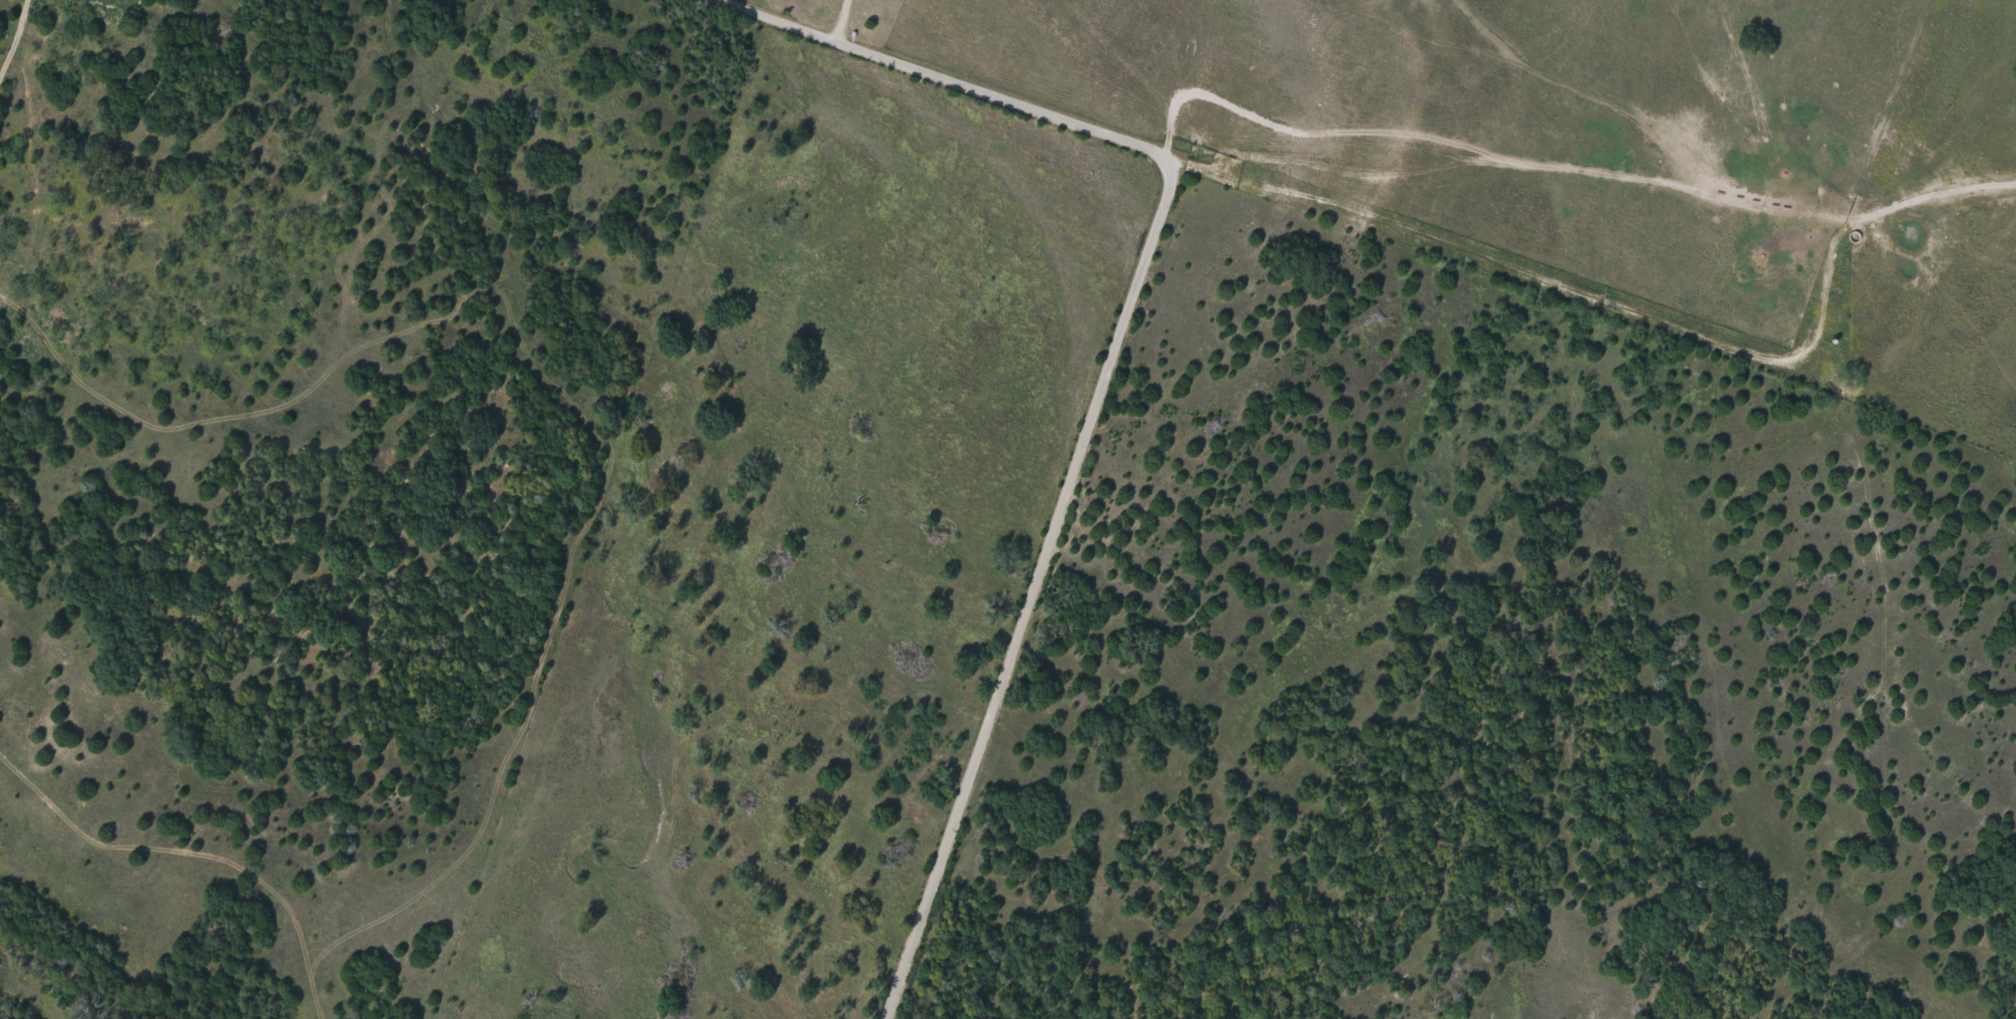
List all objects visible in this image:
road: (15, 38)
road: (940, 77)
road: (1616, 190)
road: (1055, 589)

